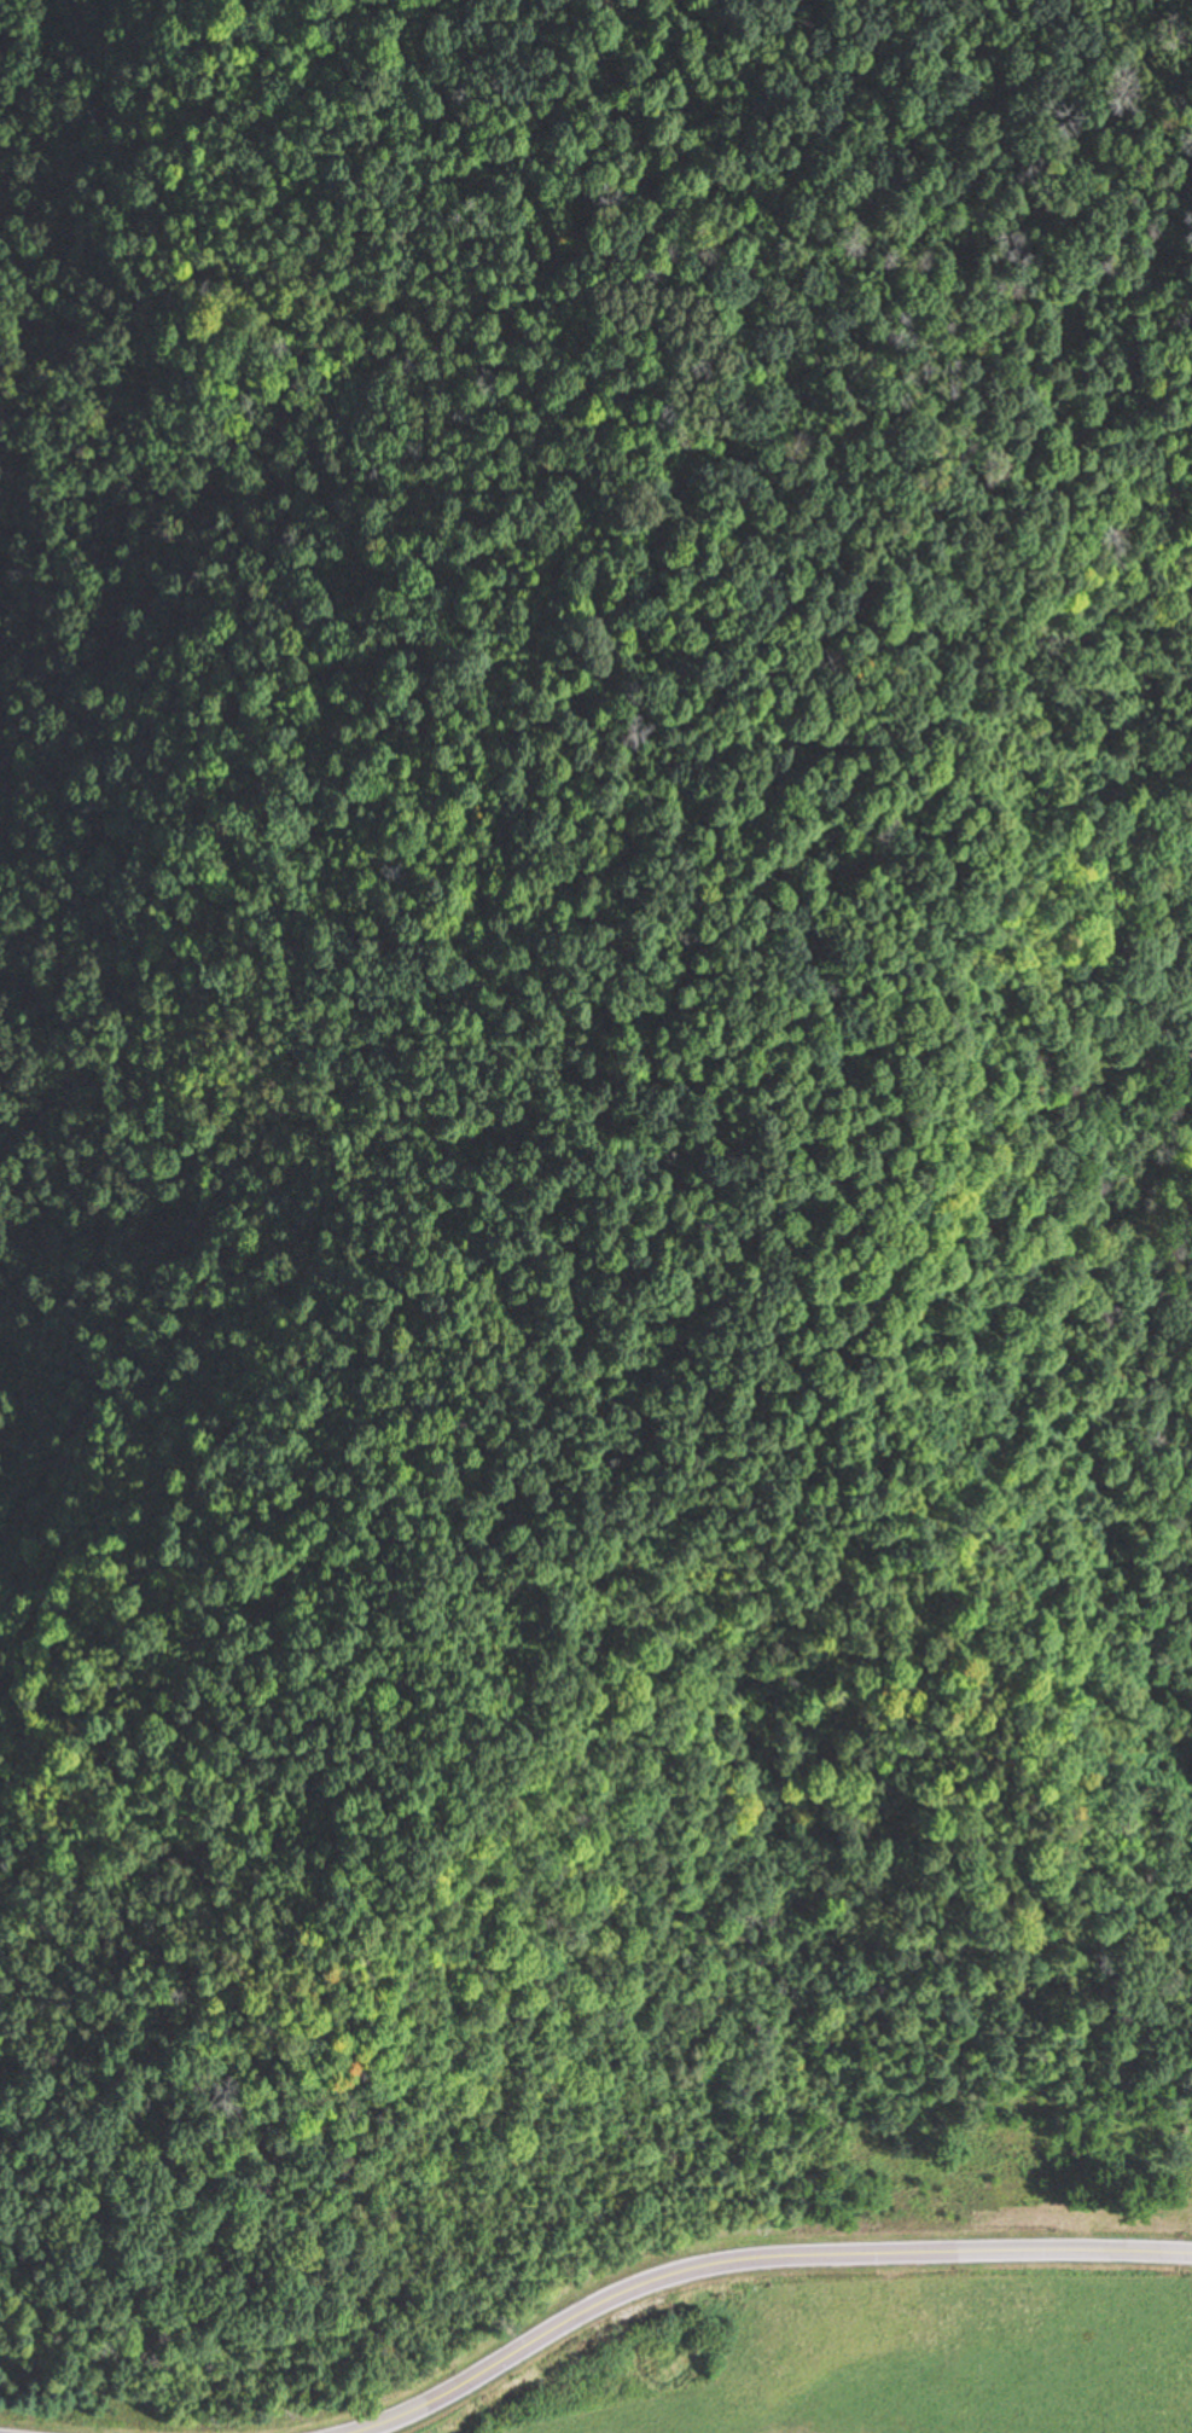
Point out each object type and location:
road: (752, 2258)

